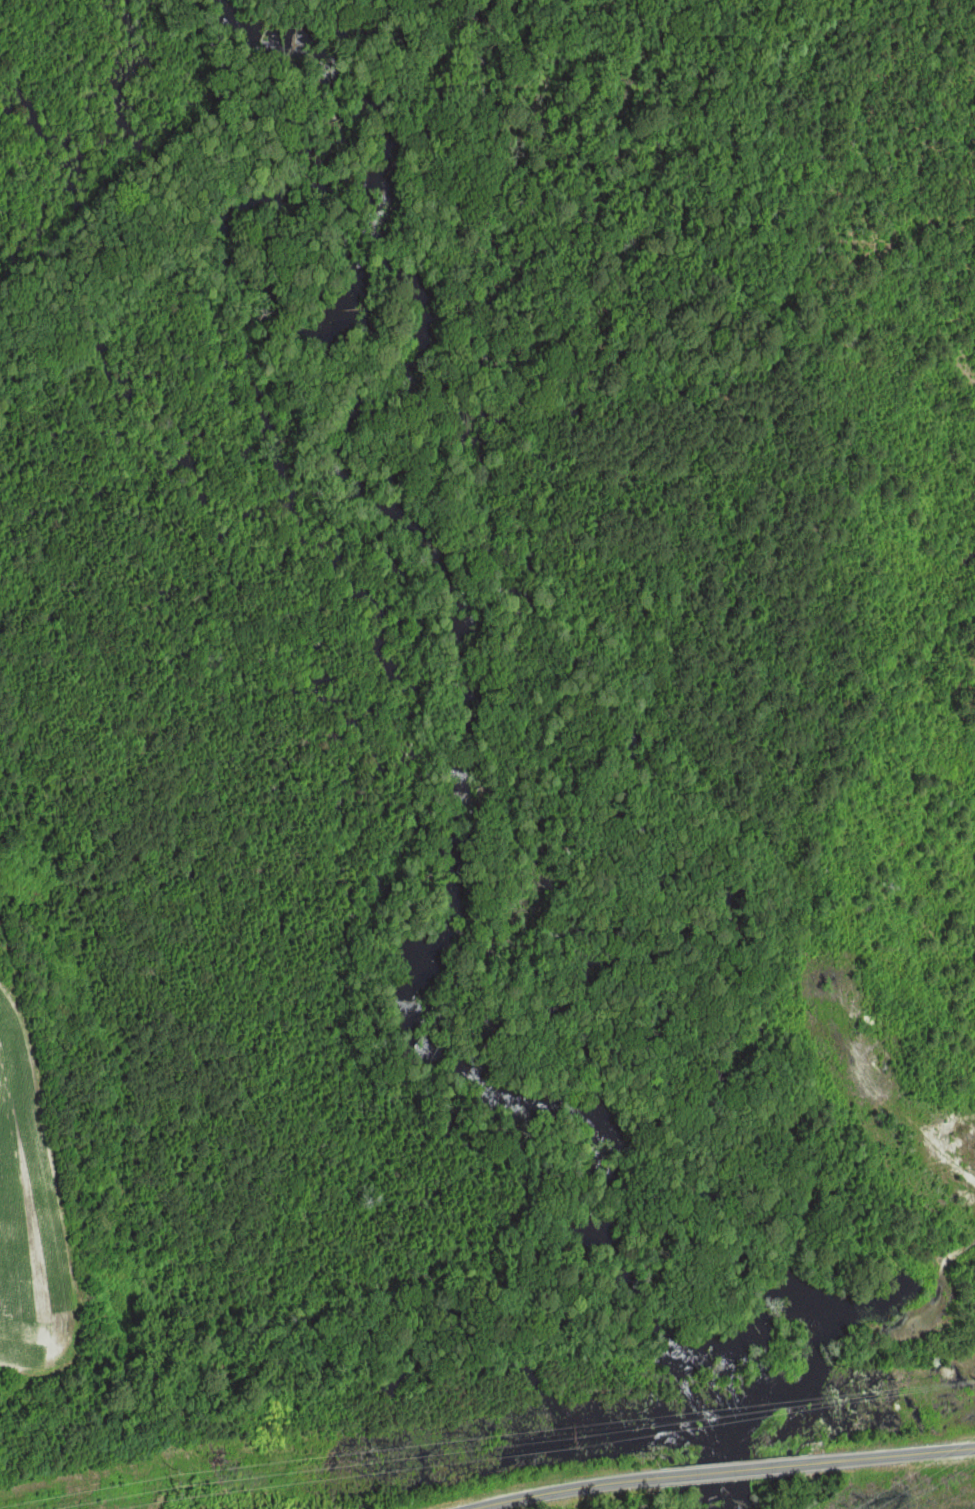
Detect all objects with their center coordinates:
river: (465, 730)
power tower: (881, 1336)
power tower: (570, 1436)
road: (892, 1455)
road: (733, 1470)
power tower: (179, 1488)
road: (565, 1489)

